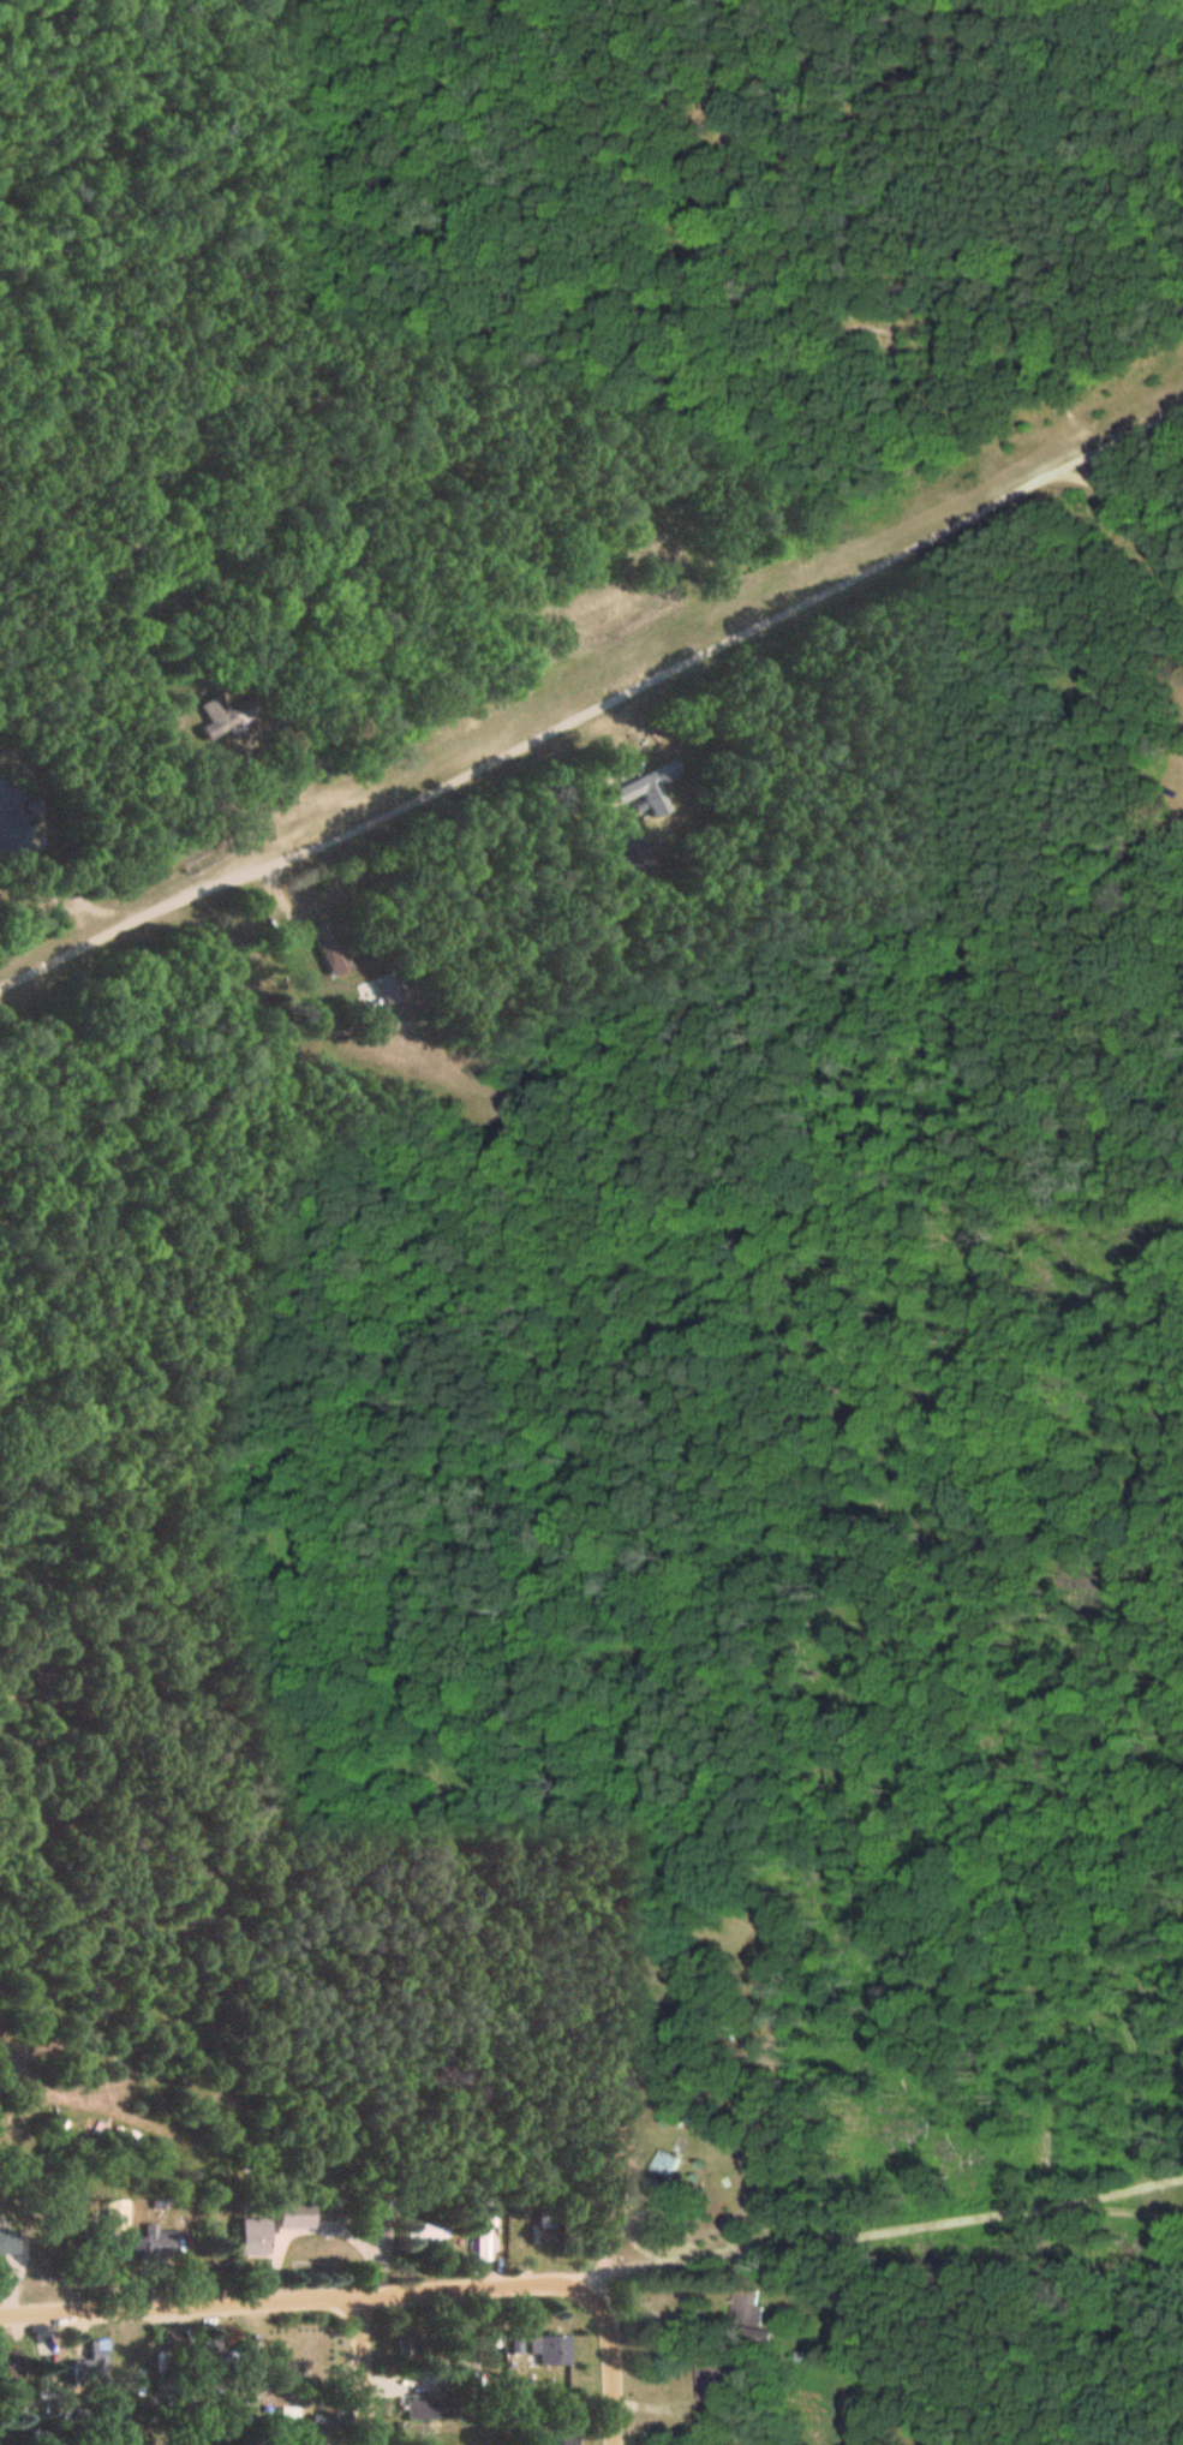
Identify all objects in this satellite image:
building: (222, 716)
building: (653, 793)
road: (1149, 2200)
building: (118, 2216)
road: (882, 2226)
building: (480, 2228)
building: (422, 2232)
building: (157, 2240)
building: (8, 2241)
building: (256, 2244)
road: (293, 2298)
road: (599, 2303)
building: (749, 2306)
building: (510, 2339)
building: (549, 2346)
building: (94, 2363)
road: (360, 2369)
building: (712, 2379)
building: (429, 2408)
building: (328, 2421)
building: (526, 2427)
building: (558, 2438)

